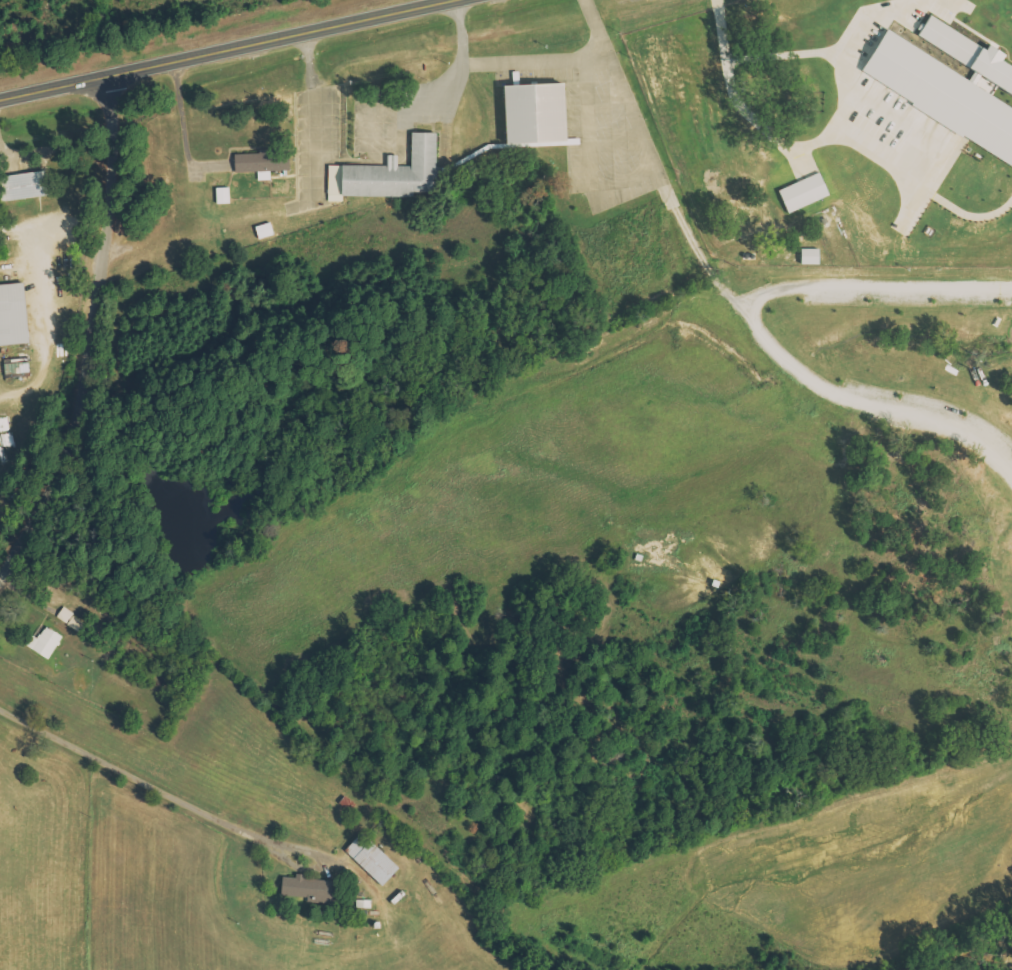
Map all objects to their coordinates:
road: (211, 46)
building: (963, 53)
building: (938, 95)
building: (529, 112)
building: (265, 163)
building: (390, 173)
building: (27, 186)
building: (799, 193)
building: (225, 195)
building: (266, 231)
building: (805, 256)
road: (879, 287)
building: (15, 315)
road: (94, 332)
building: (19, 368)
road: (869, 403)
building: (71, 620)
building: (46, 642)
road: (139, 781)
building: (374, 858)
building: (309, 887)

